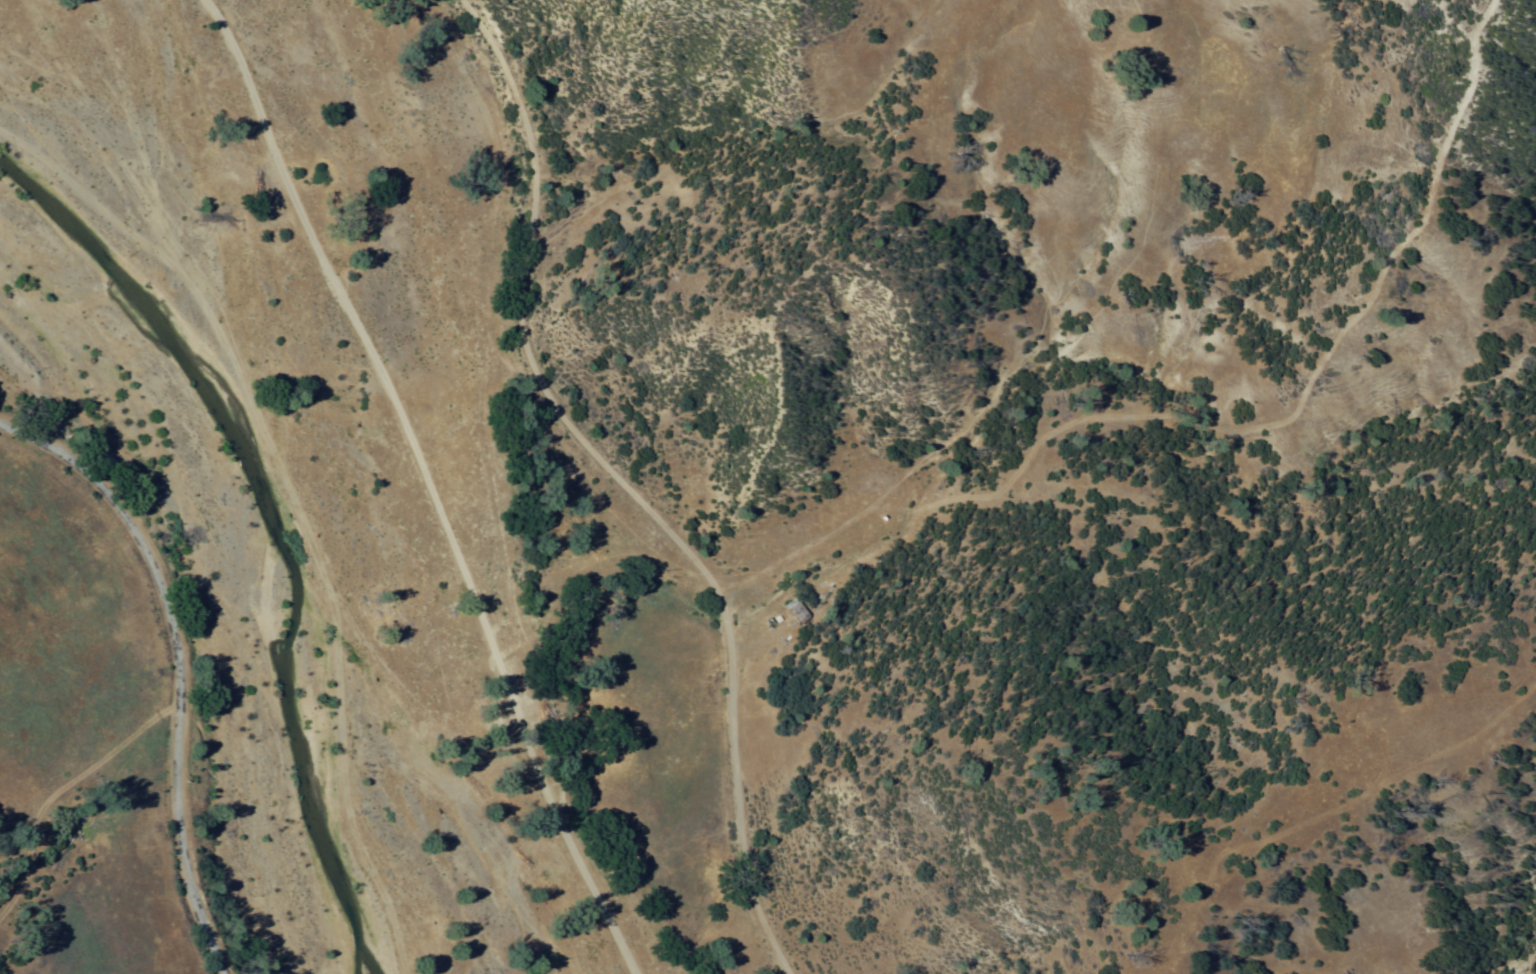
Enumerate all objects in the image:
road: (620, 484)
river: (212, 548)
road: (177, 664)

